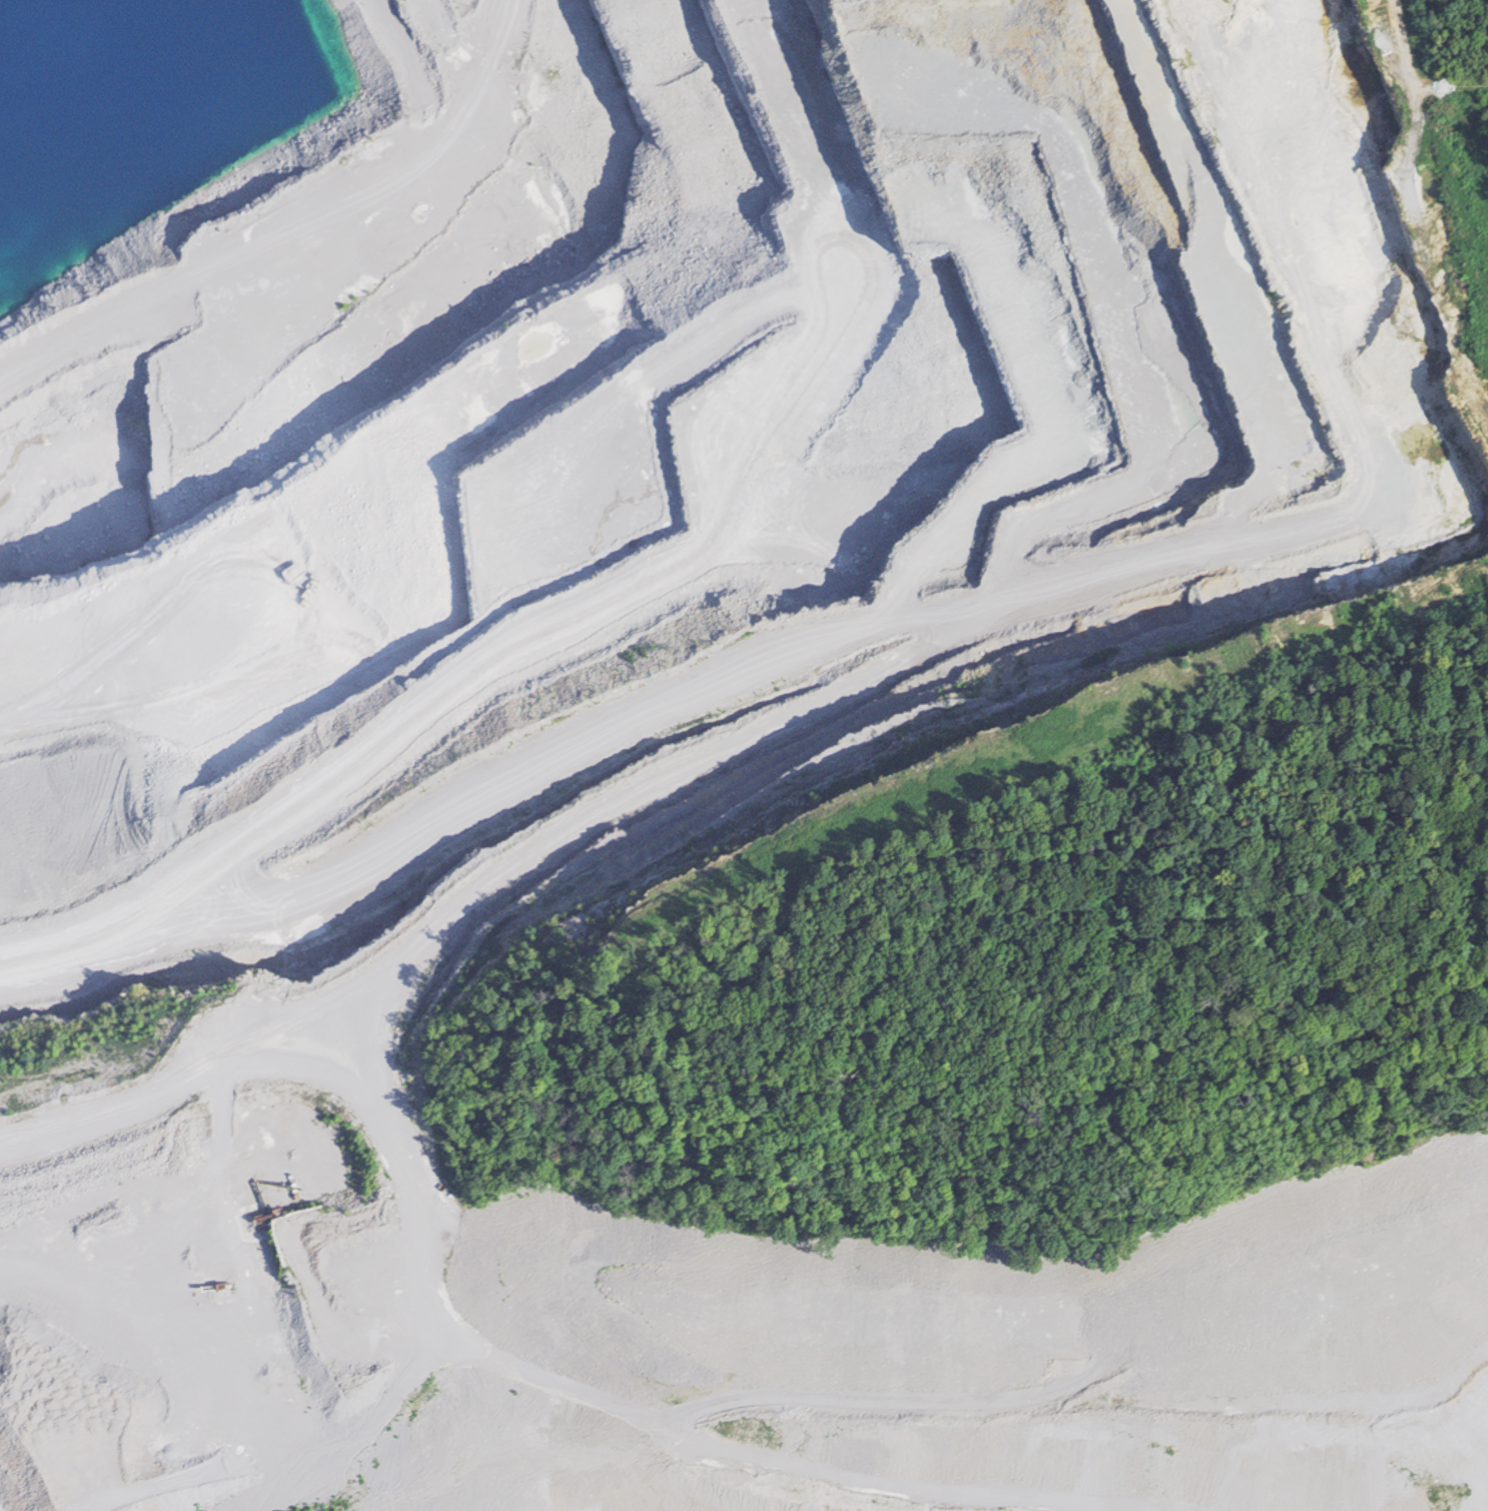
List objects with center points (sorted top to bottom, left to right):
road: (1404, 41)
road: (459, 101)
road: (1384, 205)
road: (736, 678)
road: (481, 695)
quarry: (657, 724)
road: (133, 870)
road: (400, 1156)
road: (183, 1322)
road: (745, 1434)

